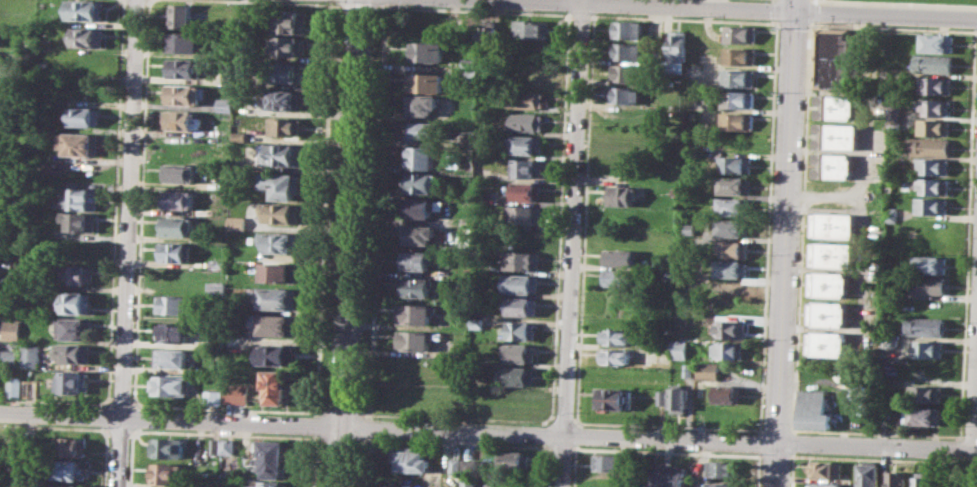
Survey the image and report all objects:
road: (385, 1)
road: (812, 1)
road: (894, 3)
road: (715, 5)
building: (87, 9)
road: (730, 10)
road: (811, 11)
traffic signals: (797, 12)
building: (183, 15)
building: (290, 22)
building: (425, 26)
building: (530, 29)
building: (626, 30)
building: (741, 34)
building: (485, 35)
building: (89, 37)
building: (184, 42)
building: (938, 43)
building: (287, 46)
building: (676, 46)
building: (628, 51)
building: (427, 52)
building: (740, 56)
building: (833, 57)
building: (935, 64)
building: (184, 68)
building: (285, 71)
building: (626, 72)
building: (528, 75)
building: (740, 77)
building: (424, 82)
building: (937, 84)
building: (85, 91)
building: (183, 93)
building: (624, 93)
building: (525, 98)
building: (738, 99)
building: (286, 100)
building: (225, 105)
building: (421, 105)
building: (936, 106)
building: (838, 108)
building: (894, 112)
building: (84, 115)
building: (183, 120)
building: (737, 120)
building: (523, 121)
building: (935, 126)
building: (286, 127)
building: (424, 132)
building: (465, 136)
building: (839, 136)
building: (737, 142)
building: (81, 144)
building: (523, 145)
building: (929, 146)
building: (281, 154)
building: (421, 157)
building: (736, 164)
building: (835, 166)
building: (935, 166)
building: (525, 168)
building: (179, 173)
building: (420, 183)
building: (282, 185)
building: (735, 185)
building: (934, 186)
building: (524, 191)
building: (621, 195)
building: (79, 199)
building: (178, 199)
building: (735, 206)
building: (933, 206)
building: (419, 207)
road: (376, 210)
building: (281, 213)
building: (523, 214)
building: (80, 221)
building: (237, 222)
building: (178, 225)
building: (835, 225)
building: (734, 227)
road: (803, 227)
building: (417, 233)
building: (463, 240)
building: (281, 242)
road: (128, 243)
road: (347, 243)
road: (571, 243)
road: (787, 243)
building: (733, 249)
building: (174, 251)
building: (835, 254)
building: (619, 258)
building: (416, 259)
building: (519, 260)
building: (18, 261)
building: (218, 264)
building: (929, 264)
building: (732, 268)
building: (280, 272)
building: (80, 274)
building: (668, 275)
building: (616, 276)
building: (520, 283)
building: (830, 284)
building: (926, 284)
building: (415, 287)
building: (216, 288)
building: (279, 298)
building: (77, 302)
building: (172, 304)
building: (520, 306)
building: (415, 313)
building: (829, 314)
building: (475, 323)
building: (278, 324)
building: (925, 327)
building: (75, 328)
building: (731, 328)
building: (13, 330)
building: (519, 330)
building: (174, 332)
building: (615, 336)
building: (213, 338)
building: (417, 339)
building: (828, 343)
building: (888, 343)
building: (679, 348)
building: (729, 349)
building: (927, 349)
building: (74, 352)
building: (518, 352)
building: (276, 353)
building: (32, 356)
building: (11, 357)
building: (615, 357)
building: (171, 358)
building: (689, 370)
building: (709, 370)
building: (516, 375)
building: (74, 382)
road: (974, 383)
building: (171, 384)
building: (277, 385)
building: (15, 386)
building: (31, 389)
building: (925, 392)
building: (236, 393)
building: (729, 393)
building: (212, 396)
building: (662, 396)
building: (611, 398)
building: (679, 402)
building: (814, 409)
building: (924, 415)
road: (368, 428)
road: (488, 432)
road: (795, 442)
building: (71, 446)
building: (215, 446)
building: (227, 446)
building: (168, 447)
building: (273, 458)
building: (410, 458)
building: (514, 460)
road: (367, 462)
building: (612, 462)
building: (455, 465)
building: (470, 465)
building: (70, 468)
building: (725, 469)
road: (793, 469)
building: (825, 469)
building: (167, 473)
building: (868, 474)
building: (658, 475)
building: (678, 478)
building: (896, 479)
building: (925, 479)
building: (611, 481)
building: (469, 482)
building: (267, 483)
building: (67, 485)
building: (723, 485)
building: (825, 485)

